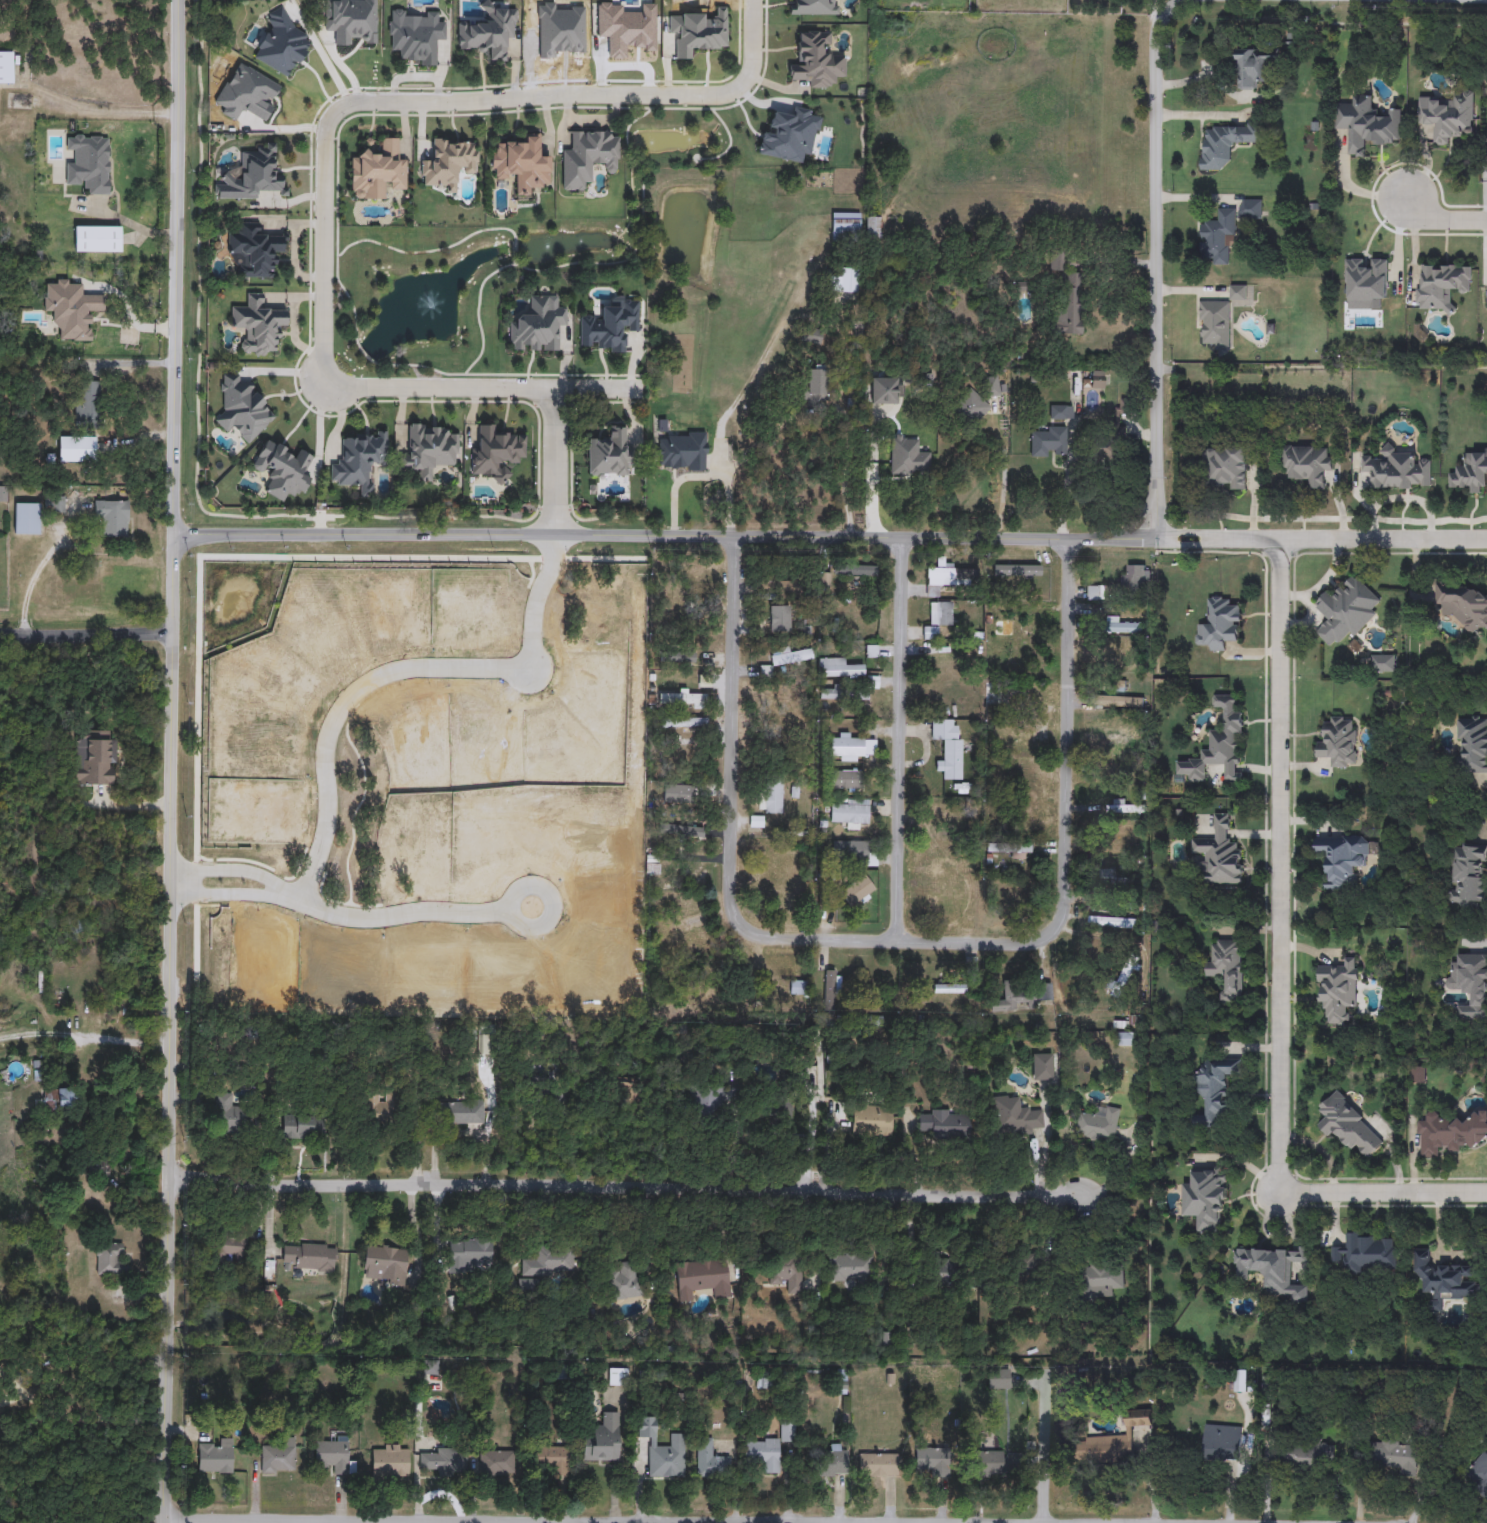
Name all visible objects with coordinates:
building: (814, 7)
road: (1157, 11)
building: (351, 21)
building: (488, 32)
building: (698, 32)
building: (415, 36)
building: (282, 44)
road: (752, 46)
building: (817, 60)
building: (1253, 68)
building: (6, 69)
building: (248, 95)
road: (533, 96)
building: (1448, 117)
building: (1224, 144)
building: (588, 157)
building: (89, 162)
building: (448, 162)
building: (522, 163)
building: (377, 171)
building: (251, 175)
building: (1250, 209)
road: (126, 221)
road: (1441, 221)
building: (846, 225)
building: (873, 227)
building: (1217, 235)
building: (97, 239)
road: (324, 249)
building: (256, 250)
building: (1056, 261)
building: (843, 281)
building: (1441, 285)
building: (1486, 301)
building: (1068, 303)
building: (72, 309)
road: (129, 311)
building: (257, 325)
building: (537, 326)
building: (610, 326)
building: (815, 385)
road: (482, 390)
building: (884, 391)
building: (976, 400)
building: (87, 402)
building: (242, 407)
building: (1061, 412)
road: (807, 419)
road: (724, 424)
building: (1048, 441)
building: (1106, 444)
building: (77, 449)
building: (430, 449)
building: (496, 452)
building: (609, 453)
building: (909, 456)
building: (359, 461)
road: (555, 463)
building: (1306, 463)
building: (1225, 467)
building: (282, 470)
building: (1396, 470)
building: (1470, 473)
road: (873, 476)
road: (1001, 481)
road: (1143, 515)
building: (27, 518)
building: (114, 520)
road: (943, 539)
road: (1321, 540)
building: (854, 570)
building: (1018, 571)
building: (697, 575)
building: (950, 577)
road: (33, 579)
building: (1133, 580)
building: (776, 589)
building: (1093, 593)
building: (1464, 605)
building: (1347, 611)
building: (843, 613)
building: (940, 613)
building: (779, 619)
building: (1219, 625)
building: (1126, 629)
building: (929, 632)
building: (1013, 634)
road: (87, 637)
building: (872, 651)
building: (679, 654)
building: (791, 658)
building: (943, 661)
building: (1382, 664)
building: (1124, 665)
building: (839, 668)
road: (394, 671)
building: (1117, 687)
building: (843, 693)
building: (994, 698)
building: (681, 699)
building: (1129, 703)
building: (790, 705)
building: (684, 722)
road: (900, 739)
building: (1116, 740)
building: (1338, 743)
building: (1220, 745)
building: (852, 746)
building: (1472, 746)
building: (948, 747)
building: (94, 757)
road: (171, 761)
building: (1121, 771)
building: (845, 779)
building: (686, 791)
building: (771, 798)
road: (123, 805)
building: (1124, 807)
building: (850, 811)
road: (730, 813)
road: (1067, 815)
building: (947, 819)
building: (683, 831)
building: (1123, 838)
building: (1021, 849)
building: (851, 852)
building: (1220, 854)
building: (1342, 859)
building: (779, 861)
building: (653, 864)
road: (1279, 868)
road: (238, 870)
building: (1106, 877)
building: (1468, 877)
building: (1127, 884)
building: (857, 890)
road: (234, 895)
building: (953, 896)
building: (1015, 896)
road: (415, 913)
building: (1112, 922)
building: (1228, 969)
building: (1123, 978)
building: (1470, 984)
building: (799, 988)
building: (950, 988)
building: (1337, 990)
building: (830, 993)
building: (1016, 997)
road: (1, 1037)
road: (84, 1040)
building: (1042, 1066)
building: (809, 1083)
building: (1215, 1094)
building: (548, 1095)
building: (68, 1097)
building: (617, 1097)
building: (709, 1101)
building: (381, 1107)
building: (463, 1113)
building: (229, 1114)
building: (872, 1117)
building: (1015, 1117)
building: (946, 1124)
building: (1100, 1124)
building: (1348, 1124)
building: (302, 1127)
building: (1452, 1134)
building: (102, 1169)
road: (626, 1188)
road: (1383, 1194)
building: (1205, 1200)
building: (228, 1249)
building: (469, 1254)
building: (1365, 1255)
building: (308, 1256)
building: (109, 1260)
building: (550, 1261)
building: (385, 1265)
building: (851, 1267)
building: (1273, 1270)
building: (944, 1271)
building: (787, 1274)
building: (703, 1278)
building: (624, 1280)
building: (1443, 1280)
building: (1099, 1281)
building: (529, 1288)
road: (58, 1357)
road: (143, 1361)
building: (618, 1376)
building: (999, 1379)
building: (841, 1382)
road: (59, 1385)
building: (603, 1439)
building: (1111, 1442)
building: (1222, 1447)
building: (767, 1449)
building: (662, 1450)
road: (1044, 1450)
building: (333, 1454)
building: (215, 1455)
building: (1306, 1455)
building: (279, 1457)
building: (1395, 1457)
building: (553, 1459)
building: (710, 1460)
building: (390, 1461)
building: (445, 1461)
building: (833, 1461)
building: (987, 1462)
building: (497, 1464)
building: (877, 1464)
building: (933, 1464)
building: (1478, 1472)
road: (116, 1520)
road: (472, 1521)
road: (522, 1522)

